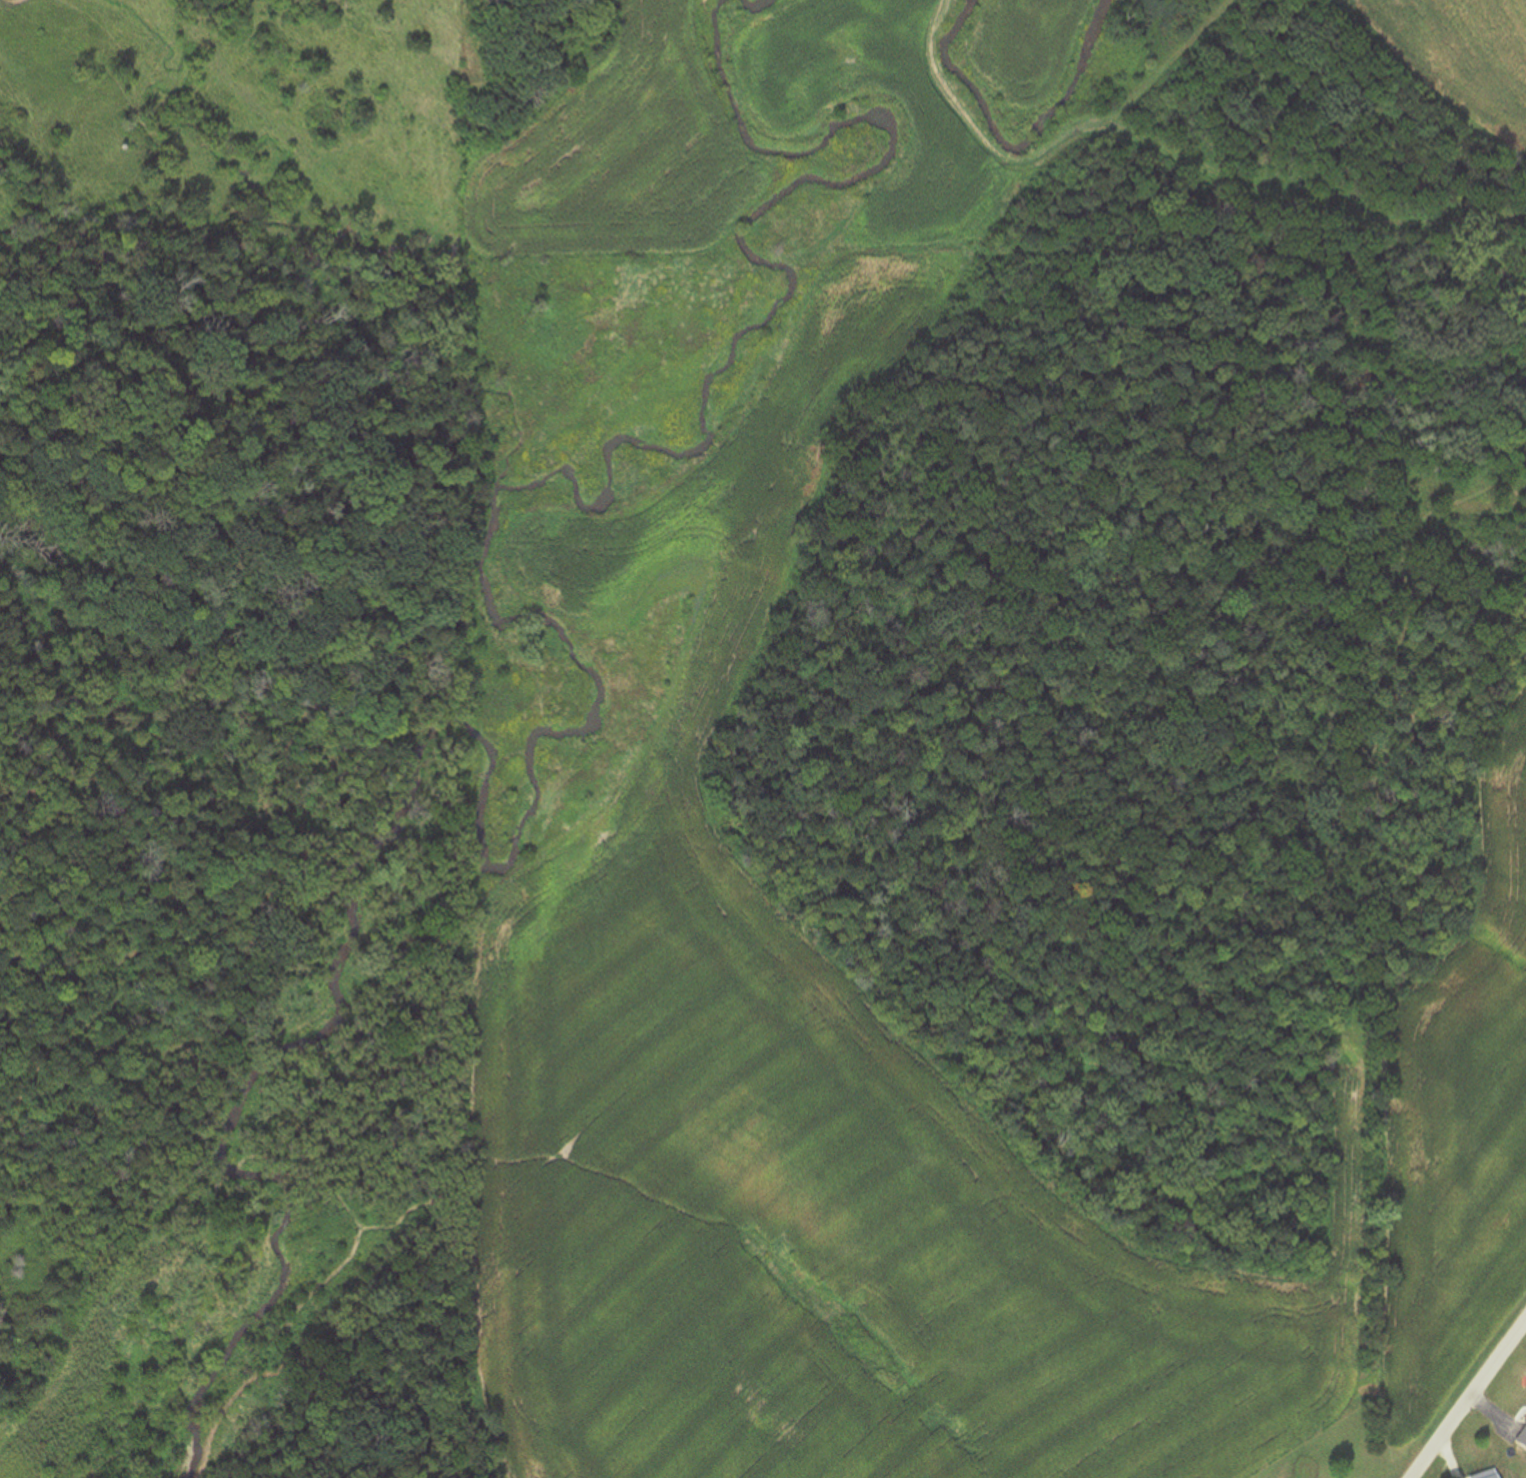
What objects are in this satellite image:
road: (1470, 1400)
building: (1523, 1439)

